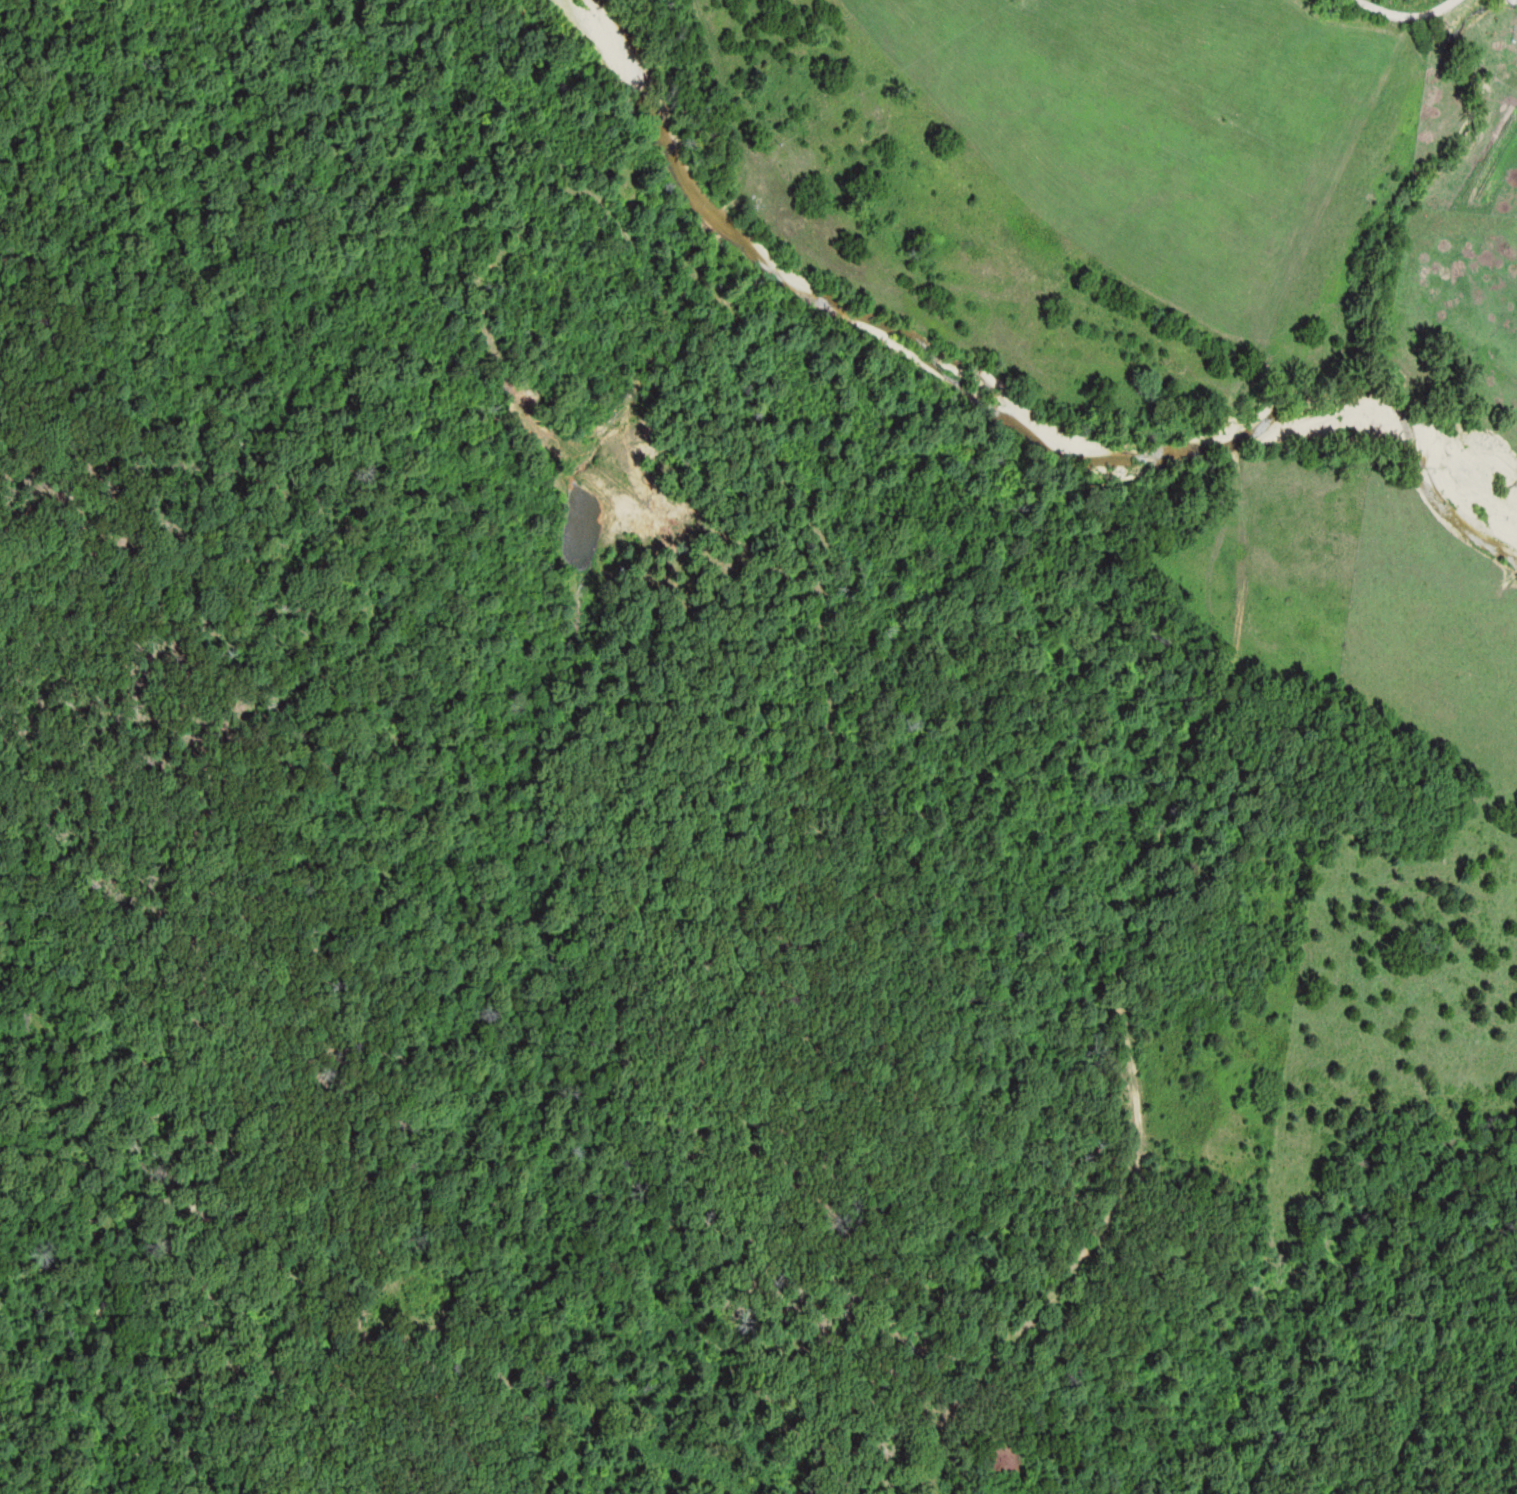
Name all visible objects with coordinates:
road: (1409, 19)

